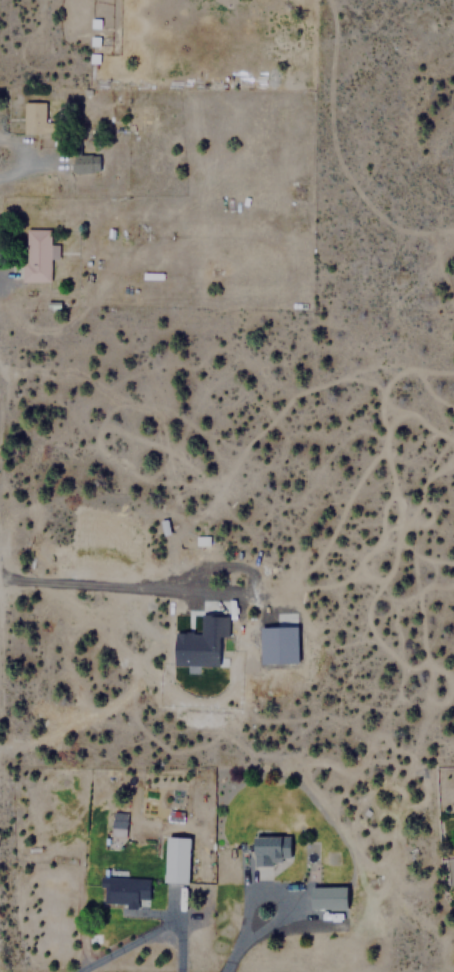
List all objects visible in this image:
building: (35, 117)
building: (85, 162)
building: (36, 254)
building: (282, 643)
building: (118, 820)
building: (270, 849)
building: (175, 858)
building: (453, 859)
building: (123, 890)
building: (329, 897)

